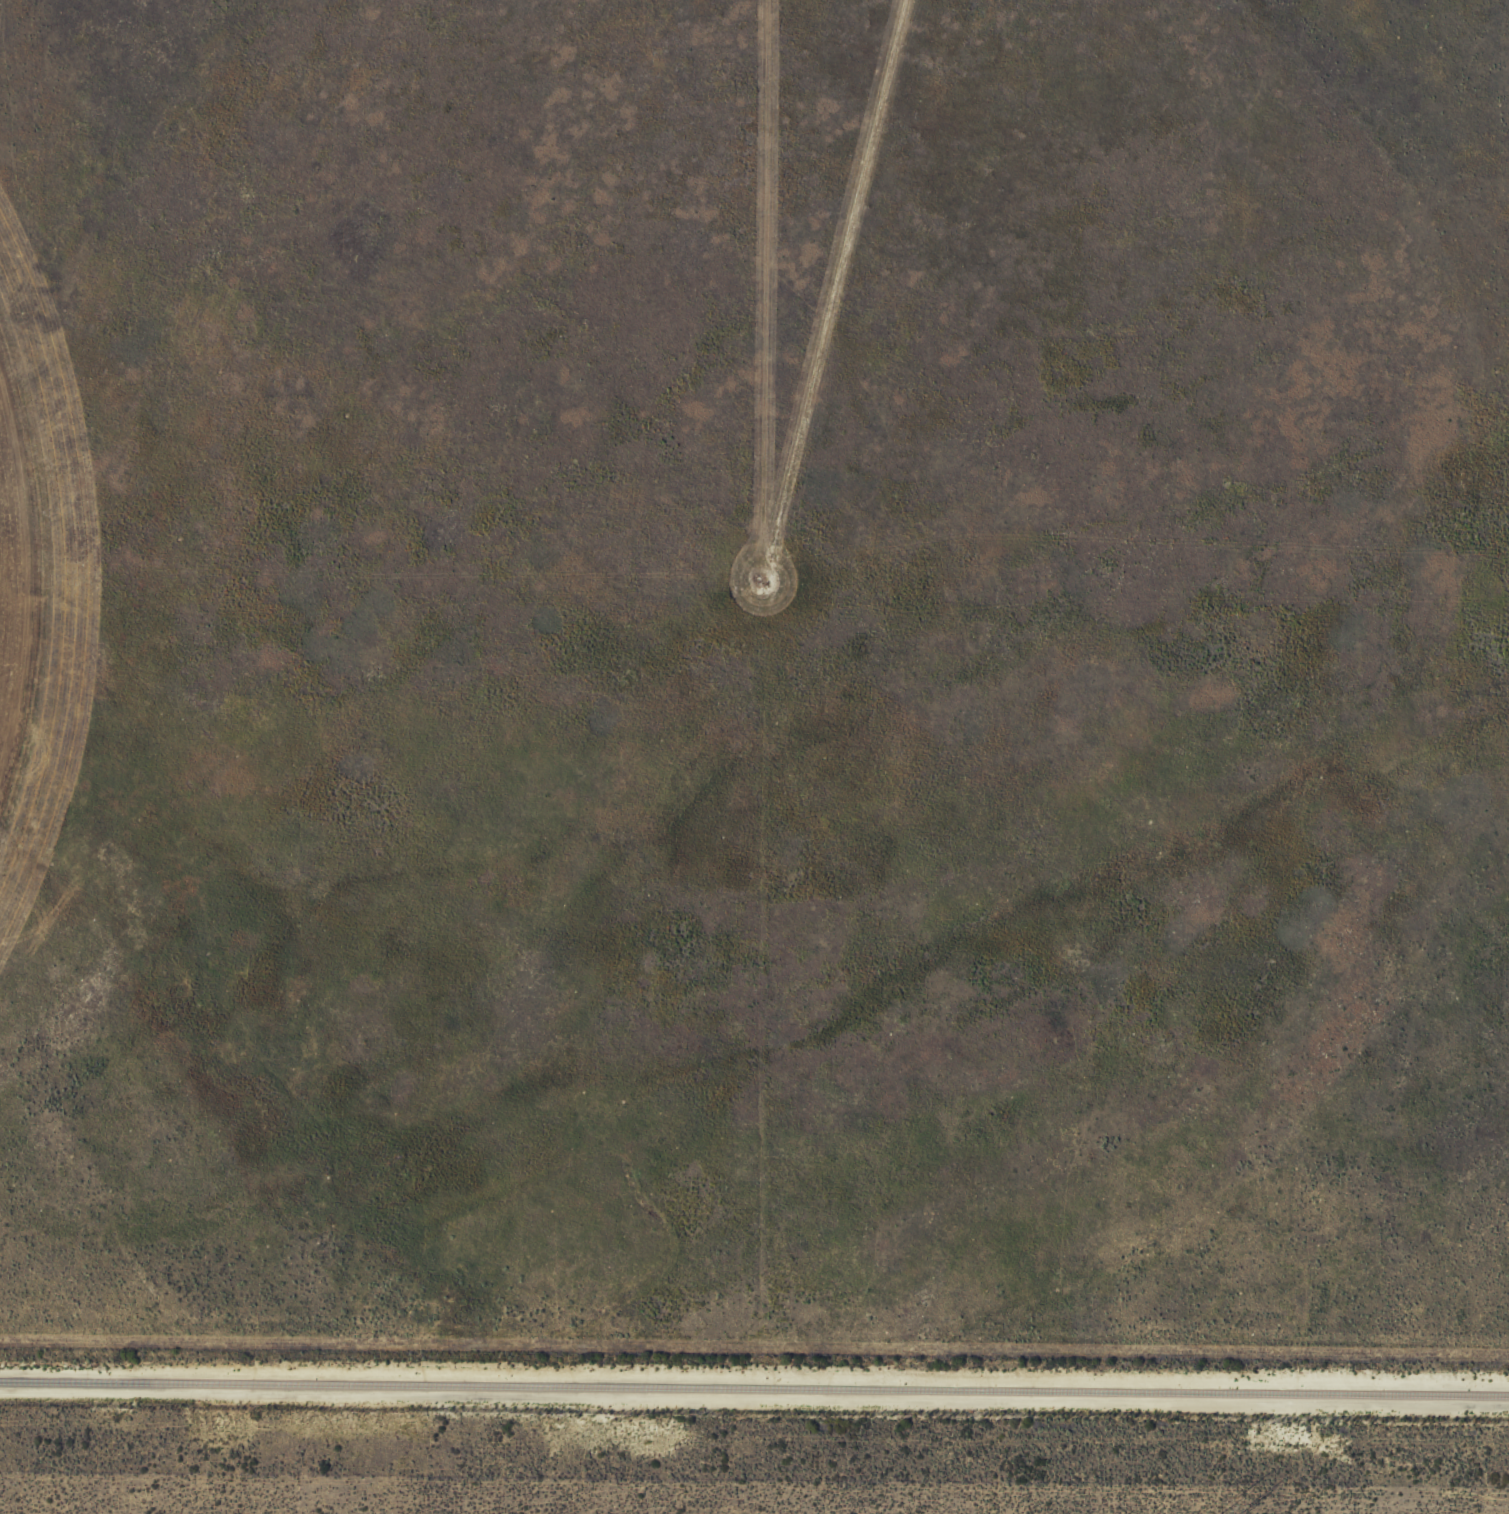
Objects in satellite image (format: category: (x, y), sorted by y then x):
railway: (754, 1390)

